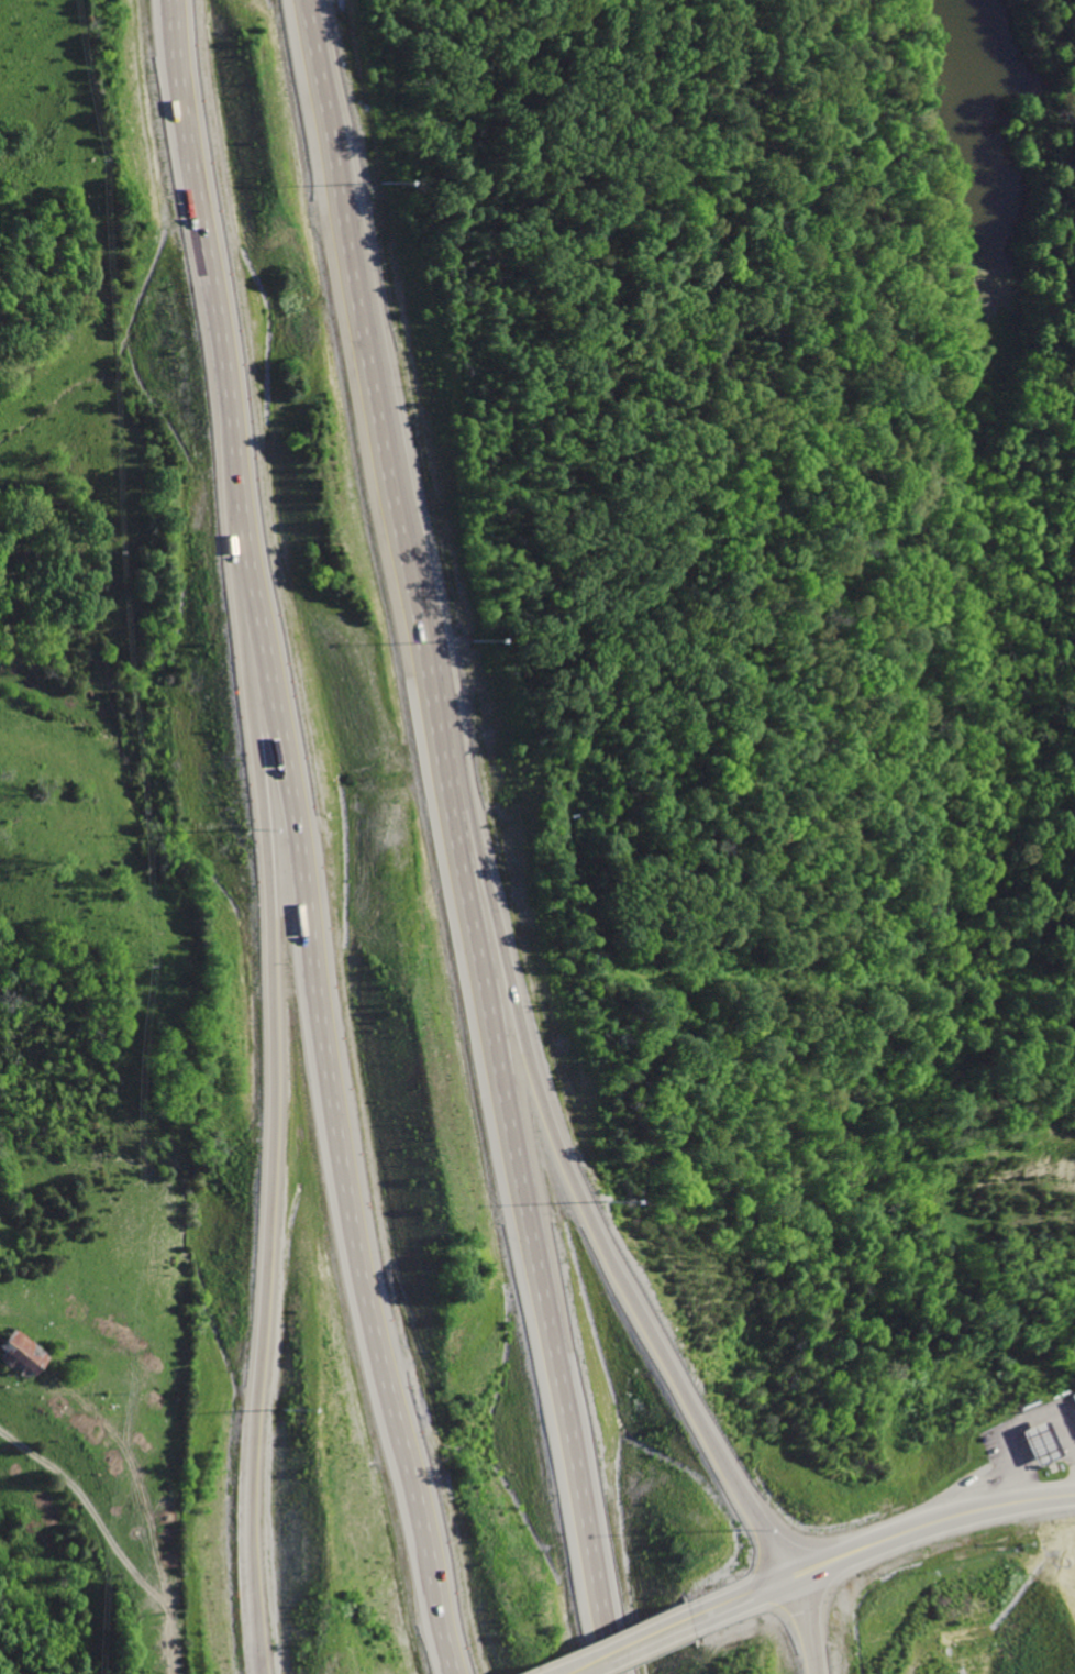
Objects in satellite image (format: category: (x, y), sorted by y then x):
road: (203, 256)
road: (457, 838)
road: (274, 1092)
road: (329, 1097)
road: (556, 1141)
building: (13, 1355)
building: (1068, 1407)
building: (1031, 1441)
gas station: (1031, 1441)
road: (112, 1533)
road: (878, 1541)
road: (810, 1623)
road: (631, 1647)
road: (173, 1673)

